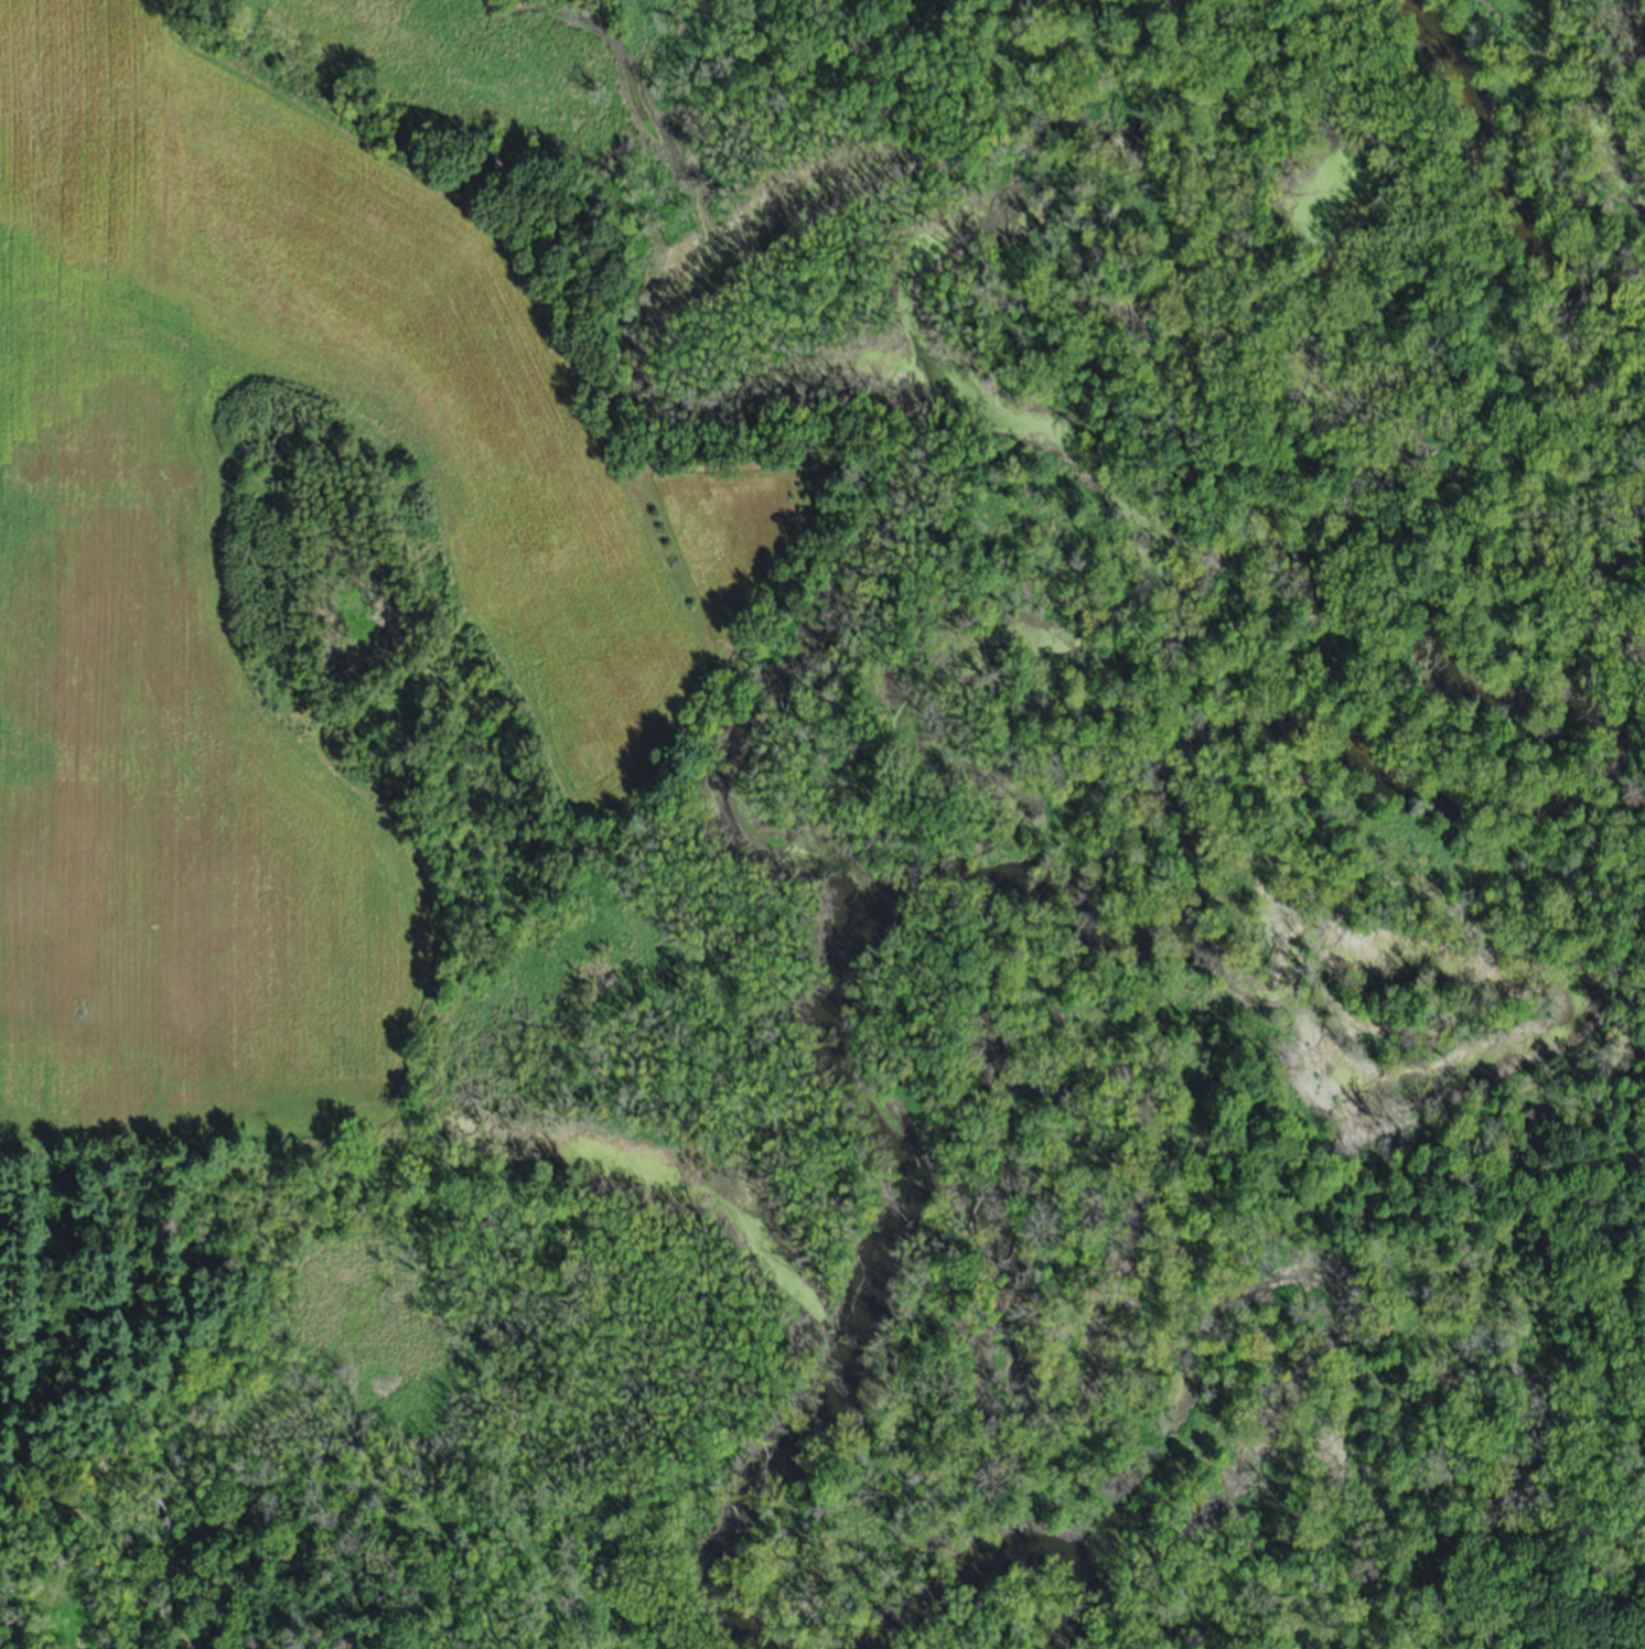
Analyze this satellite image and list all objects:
river: (1540, 159)
river: (1131, 1163)

